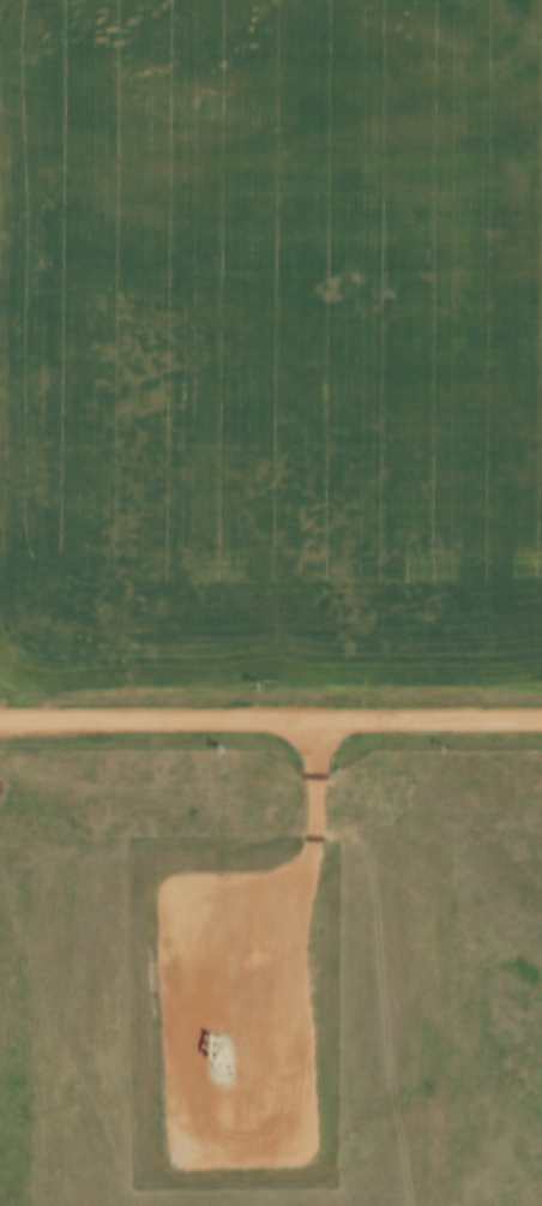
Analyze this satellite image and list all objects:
road: (270, 718)

